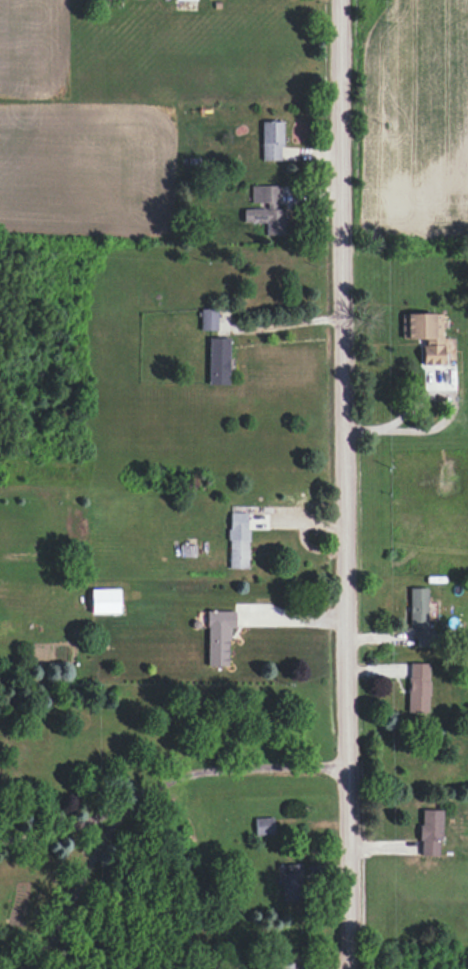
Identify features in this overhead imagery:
building: (176, 0)
building: (271, 141)
building: (266, 219)
building: (208, 319)
road: (289, 325)
building: (427, 335)
building: (217, 361)
road: (401, 416)
road: (351, 484)
building: (238, 540)
building: (105, 601)
building: (417, 607)
road: (297, 618)
building: (218, 636)
building: (418, 687)
road: (236, 765)
building: (263, 826)
road: (66, 827)
building: (430, 833)
building: (291, 882)
road: (81, 890)
building: (282, 966)

